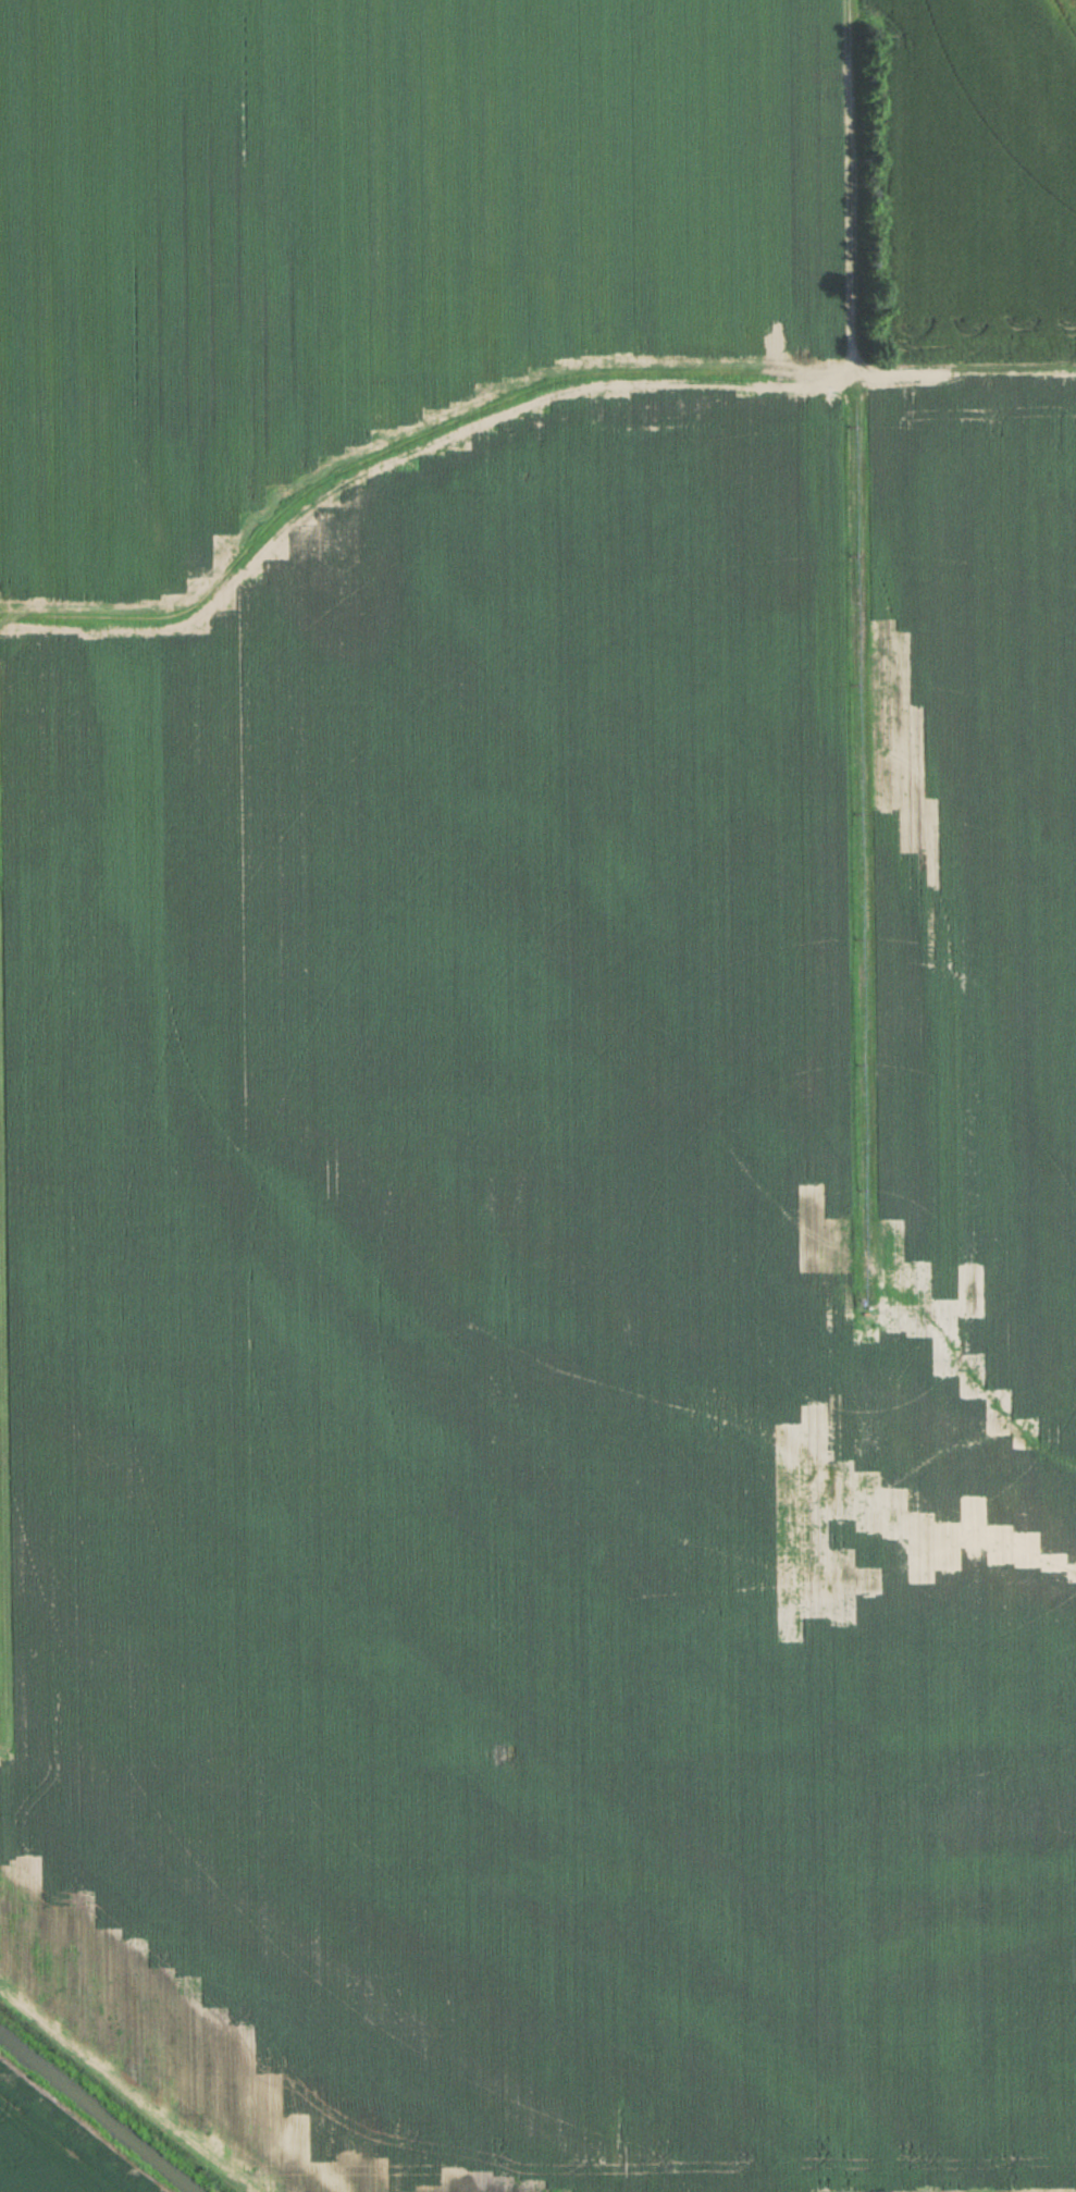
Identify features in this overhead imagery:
road: (828, 301)

